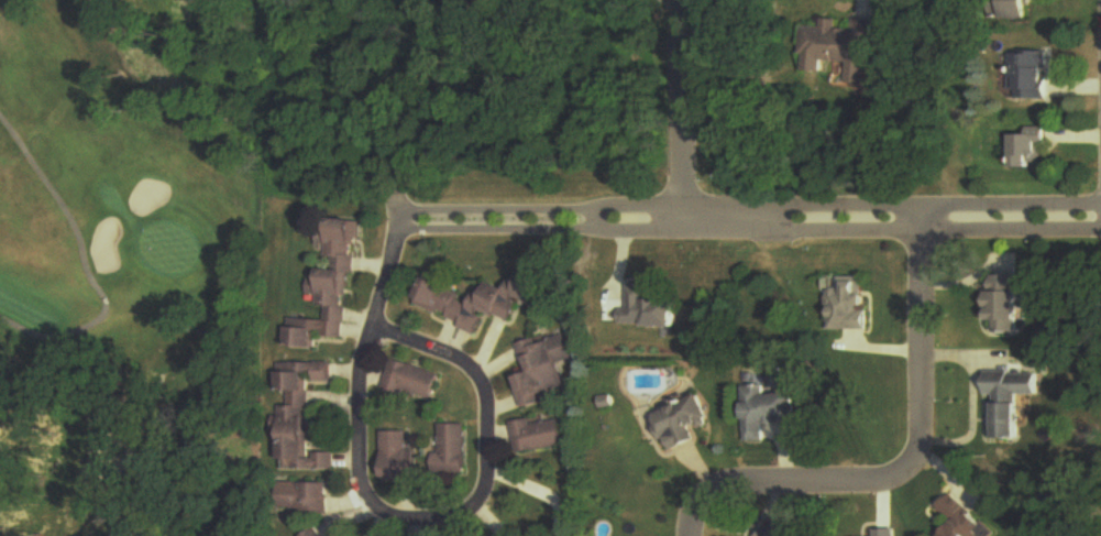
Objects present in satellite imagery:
building: (1021, 10)
building: (839, 46)
building: (1032, 77)
road: (690, 110)
building: (1032, 150)
road: (755, 220)
park: (130, 276)
road: (392, 280)
building: (330, 286)
building: (481, 302)
building: (1008, 304)
building: (852, 306)
building: (653, 310)
road: (427, 347)
building: (546, 369)
building: (411, 381)
road: (975, 395)
building: (1013, 400)
building: (773, 411)
building: (300, 416)
building: (690, 423)
building: (540, 436)
building: (451, 450)
building: (397, 457)
road: (910, 467)
building: (304, 500)
road: (410, 516)
building: (967, 519)
building: (774, 533)
building: (888, 533)
building: (316, 534)

